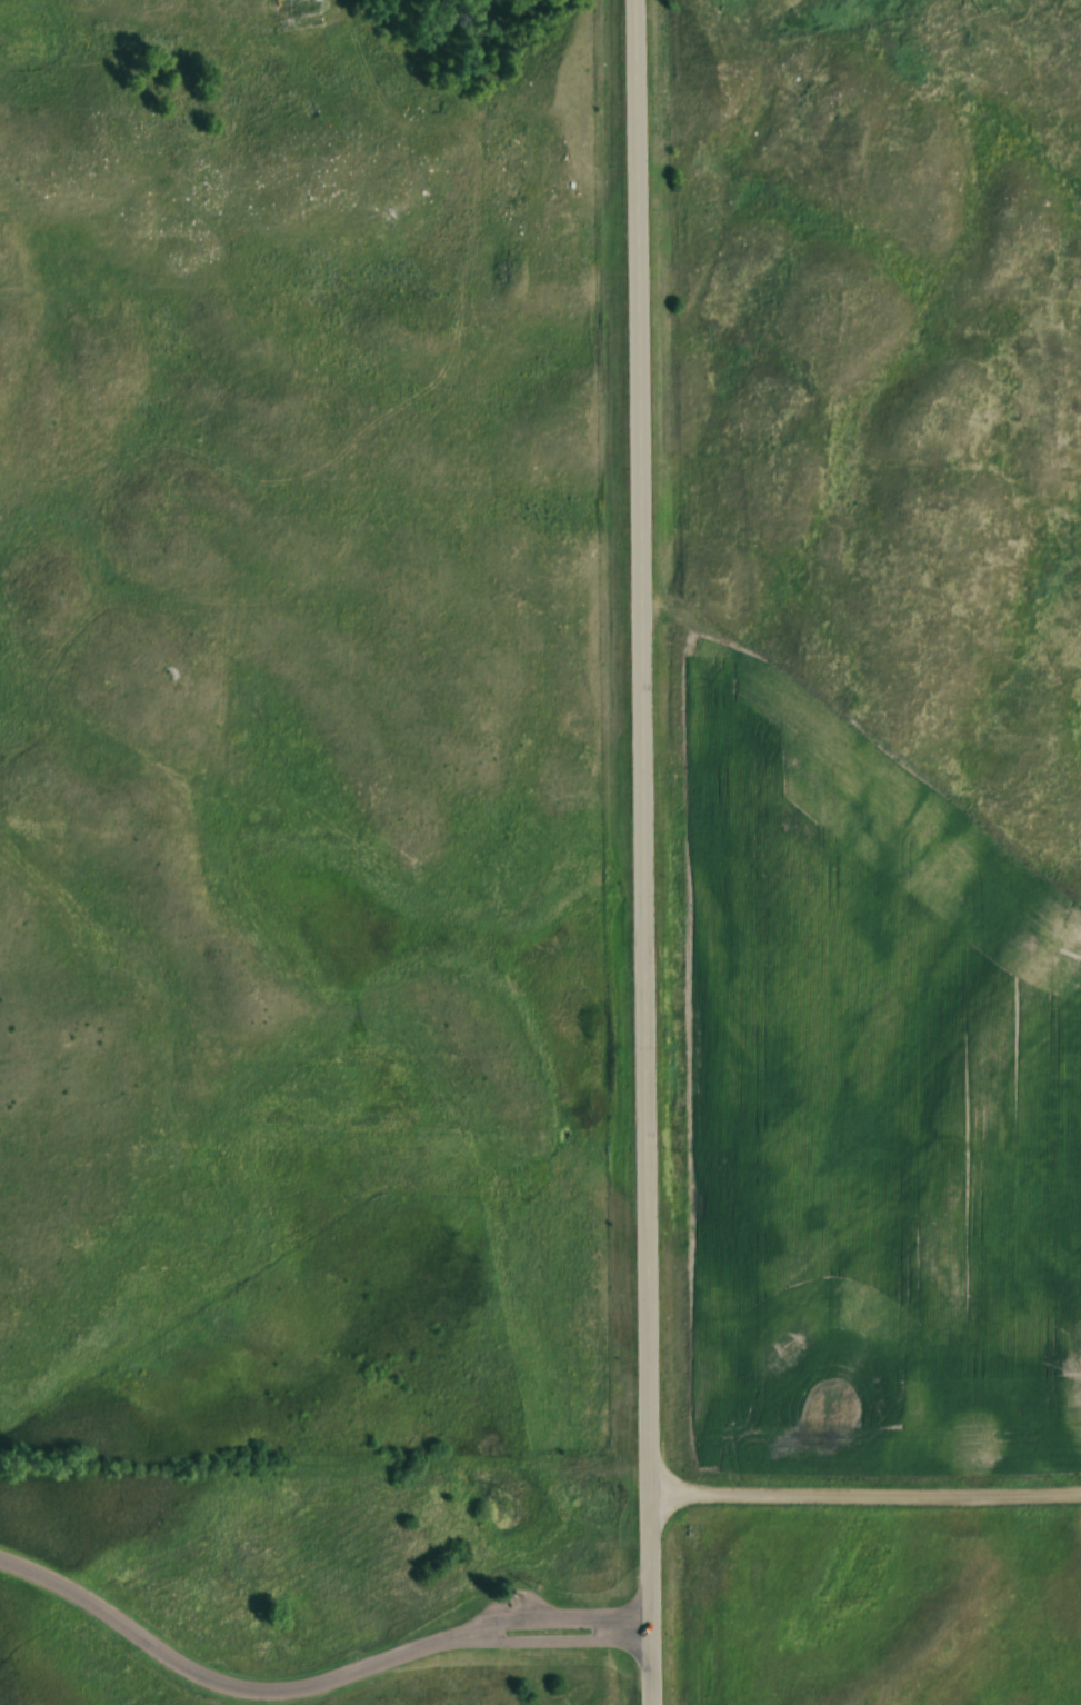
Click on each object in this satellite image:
road: (654, 851)
road: (871, 1498)
park: (319, 1581)
road: (317, 1688)

